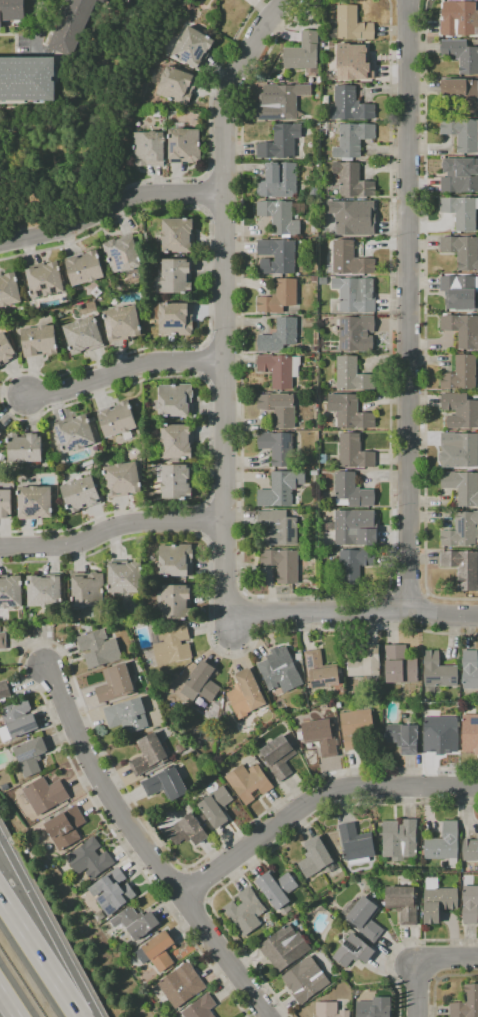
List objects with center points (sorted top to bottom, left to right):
building: (109, 0)
building: (103, 1)
road: (279, 9)
building: (12, 10)
building: (458, 18)
building: (350, 25)
road: (37, 26)
building: (70, 31)
building: (193, 47)
rooftop solar panel: (197, 52)
building: (303, 52)
rooftop solar panel: (183, 55)
building: (461, 55)
building: (354, 62)
building: (28, 78)
building: (318, 78)
building: (175, 85)
building: (463, 93)
building: (281, 101)
building: (349, 105)
building: (170, 117)
road: (210, 124)
building: (323, 130)
building: (462, 133)
building: (352, 140)
building: (281, 142)
building: (184, 144)
rooftop solar panel: (170, 146)
building: (147, 149)
rooftop solar panel: (175, 161)
building: (460, 176)
building: (279, 181)
building: (350, 182)
road: (109, 205)
building: (461, 212)
building: (281, 217)
building: (353, 217)
building: (176, 236)
building: (462, 251)
building: (123, 253)
building: (277, 256)
building: (348, 260)
building: (84, 268)
building: (177, 276)
building: (314, 278)
building: (43, 280)
building: (9, 290)
building: (460, 292)
building: (93, 293)
building: (355, 294)
building: (279, 297)
road: (407, 304)
road: (225, 311)
building: (174, 319)
road: (426, 322)
building: (122, 323)
rooftop solar panel: (107, 325)
rooftop solar panel: (172, 325)
building: (462, 330)
rooftop solar panel: (345, 331)
building: (356, 334)
rooftop solar panel: (108, 335)
building: (83, 336)
building: (280, 337)
building: (39, 341)
rooftop solar panel: (345, 345)
building: (6, 350)
building: (280, 370)
road: (124, 371)
building: (460, 374)
building: (353, 375)
road: (1, 389)
building: (175, 400)
building: (279, 408)
building: (460, 411)
building: (349, 412)
building: (117, 419)
building: (0, 432)
building: (0, 433)
building: (75, 433)
rooftop solar panel: (60, 438)
building: (176, 441)
building: (277, 447)
building: (23, 448)
building: (459, 450)
building: (354, 451)
building: (121, 479)
building: (173, 480)
building: (462, 486)
building: (280, 489)
building: (351, 491)
building: (80, 494)
building: (35, 502)
building: (5, 504)
road: (205, 521)
building: (278, 528)
building: (355, 528)
road: (111, 529)
building: (461, 531)
building: (175, 560)
building: (282, 565)
building: (352, 567)
building: (463, 568)
building: (125, 577)
building: (87, 589)
building: (43, 591)
building: (10, 592)
road: (406, 592)
road: (300, 597)
building: (174, 601)
road: (351, 611)
road: (208, 628)
building: (2, 640)
building: (172, 645)
building: (98, 648)
building: (365, 662)
building: (399, 665)
building: (279, 670)
building: (470, 670)
building: (319, 671)
building: (437, 671)
rooftop solar panel: (324, 679)
building: (201, 683)
building: (114, 684)
building: (4, 692)
building: (245, 694)
road: (49, 712)
building: (127, 716)
building: (17, 720)
rooftop solar panel: (24, 726)
building: (358, 730)
building: (470, 733)
building: (440, 735)
building: (321, 736)
building: (403, 738)
rooftop solar panel: (24, 754)
building: (147, 755)
building: (29, 756)
building: (277, 757)
road: (315, 780)
building: (248, 782)
building: (166, 785)
building: (43, 795)
road: (314, 799)
building: (216, 806)
building: (65, 827)
building: (187, 830)
building: (399, 839)
building: (356, 844)
building: (444, 845)
road: (145, 848)
building: (470, 850)
road: (269, 851)
building: (314, 857)
building: (89, 859)
road: (197, 883)
building: (277, 890)
building: (113, 892)
rooftop solar panel: (101, 898)
building: (438, 902)
building: (403, 903)
building: (470, 904)
rooftop solar panel: (109, 911)
building: (245, 911)
building: (364, 918)
building: (135, 922)
road: (47, 928)
road: (398, 944)
building: (284, 947)
rooftop solar panel: (350, 947)
building: (353, 950)
building: (157, 951)
road: (39, 956)
road: (417, 958)
building: (305, 980)
road: (440, 980)
building: (181, 985)
building: (466, 1003)
road: (7, 1005)
building: (373, 1007)
building: (199, 1008)
building: (329, 1010)

